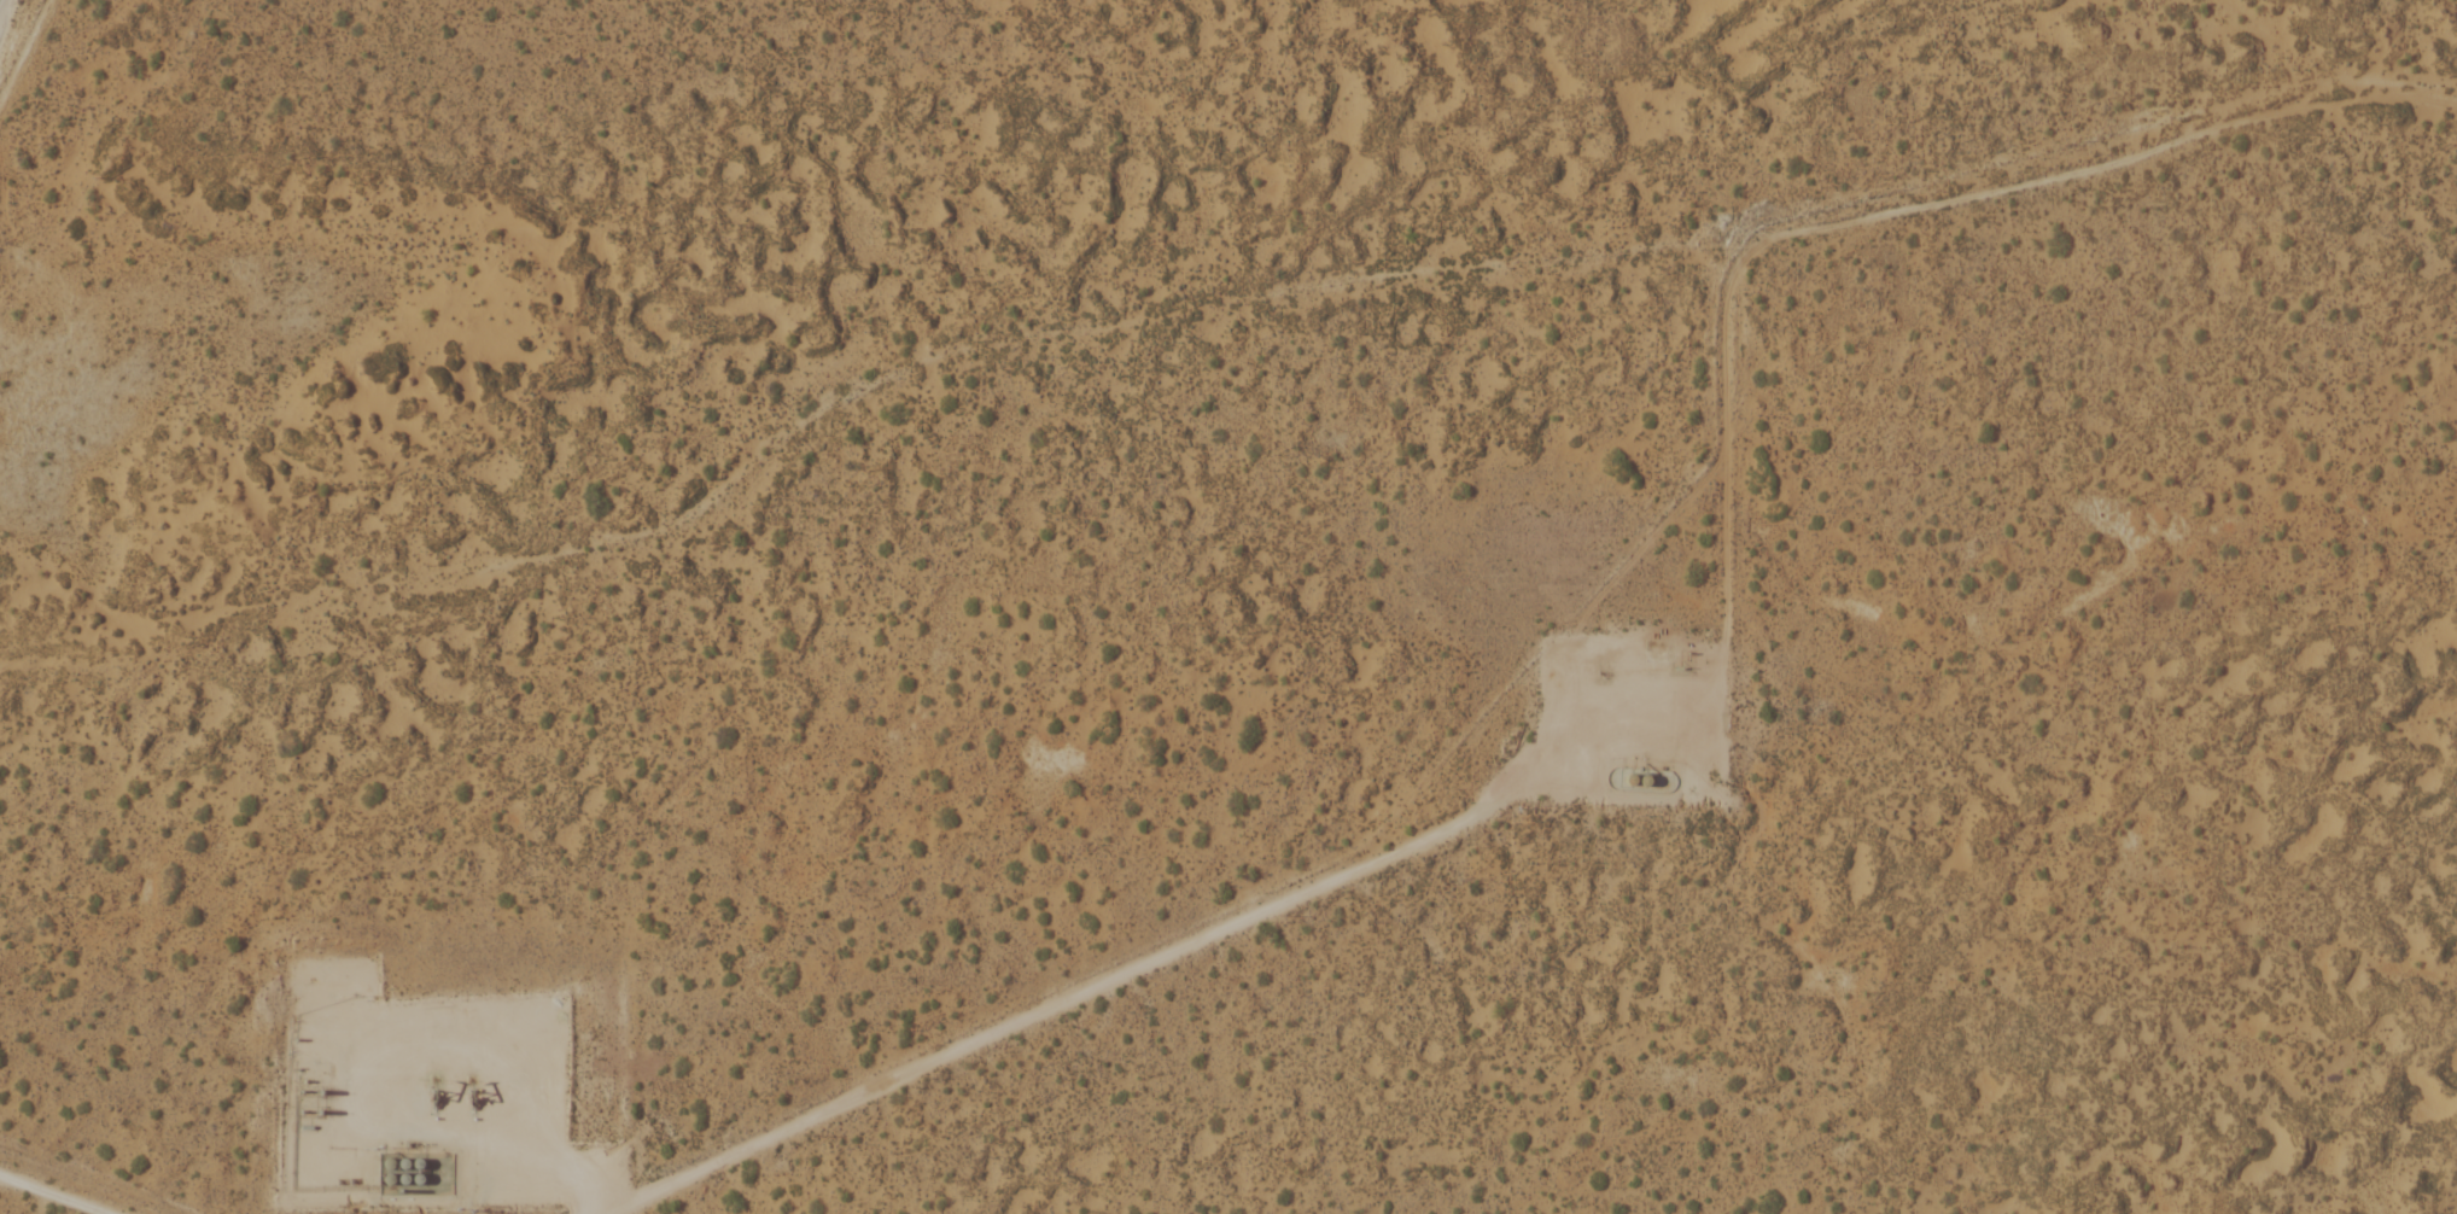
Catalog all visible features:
road: (1167, 941)
road: (49, 1195)

